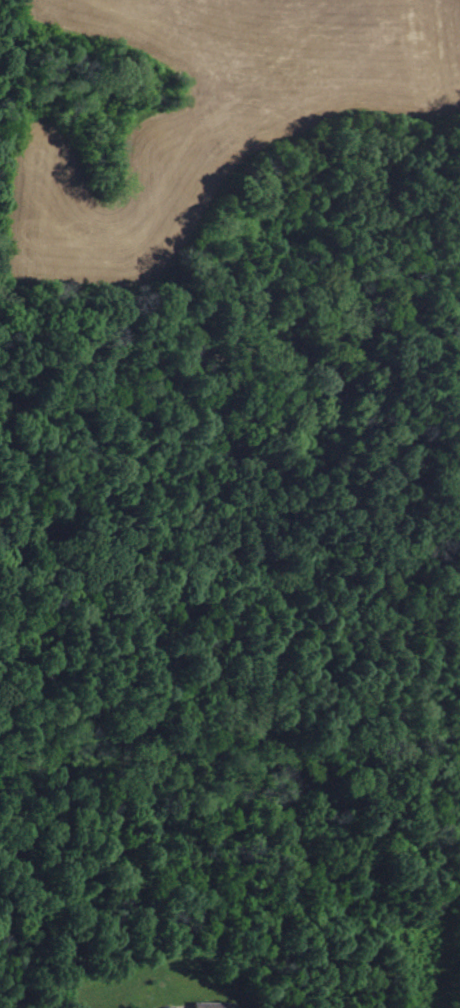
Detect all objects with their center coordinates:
building: (210, 1005)
building: (166, 1007)

